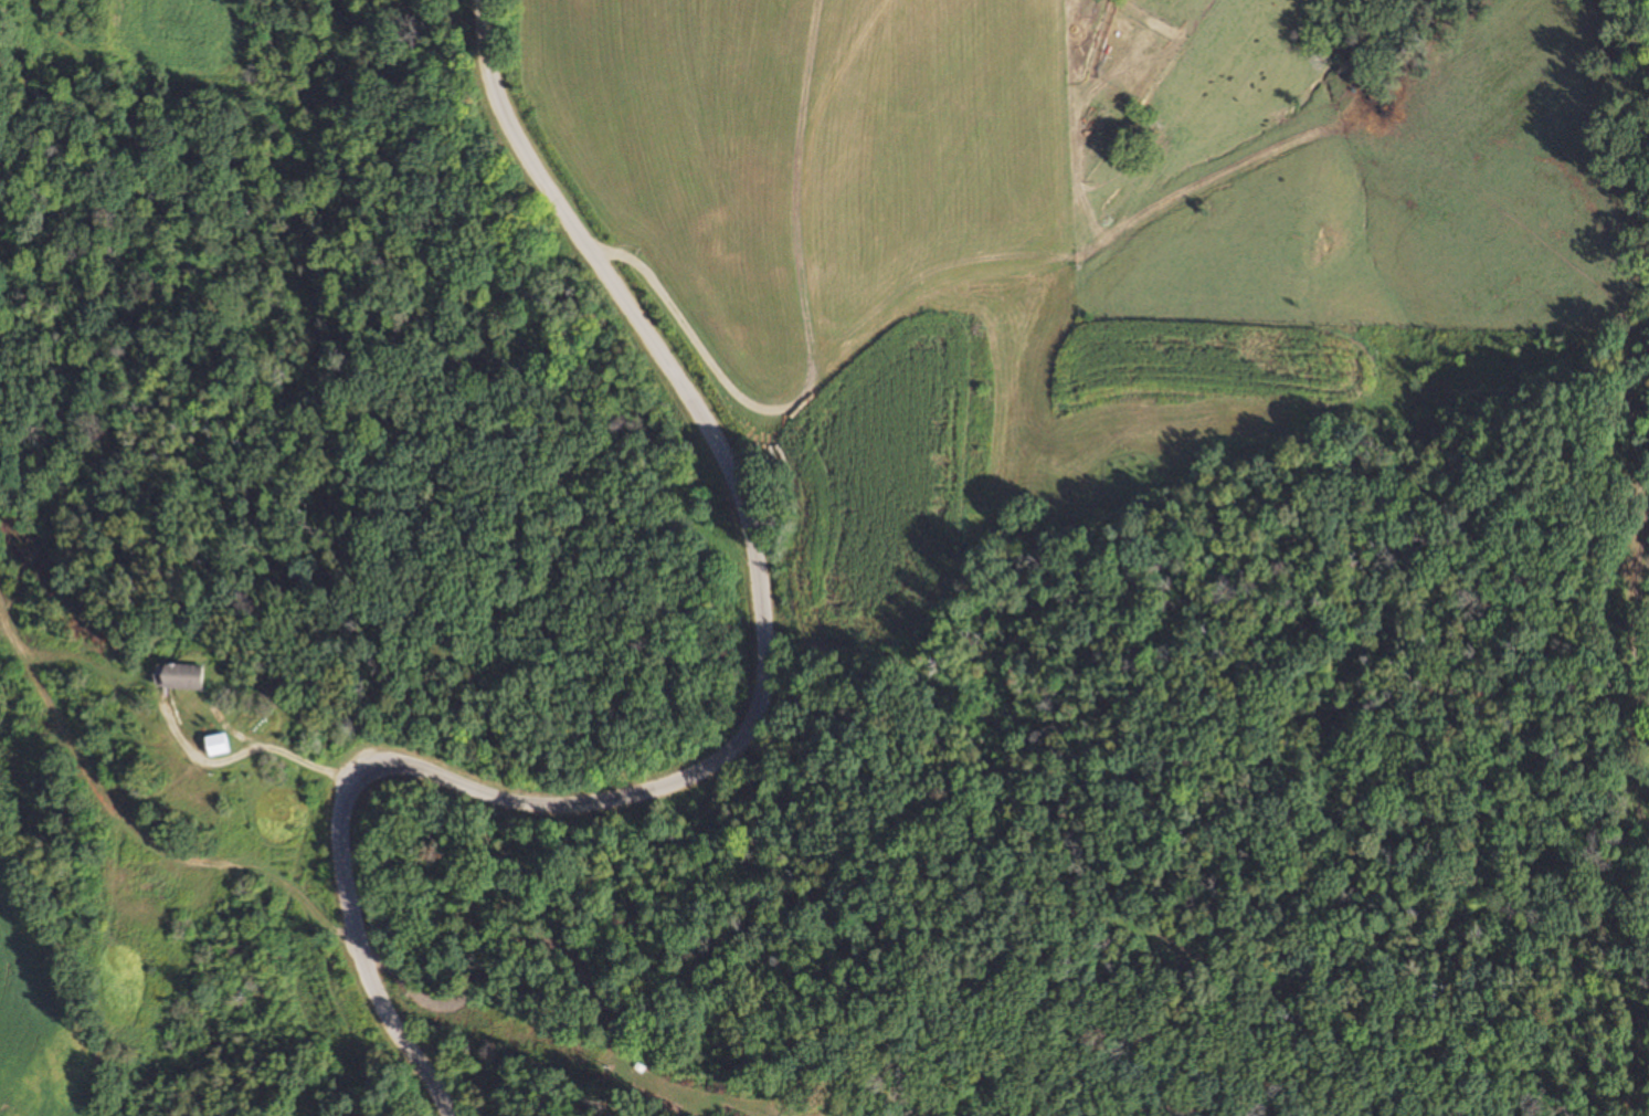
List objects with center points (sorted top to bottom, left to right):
road: (913, 298)
building: (181, 676)
road: (769, 699)
building: (214, 745)
road: (114, 811)

